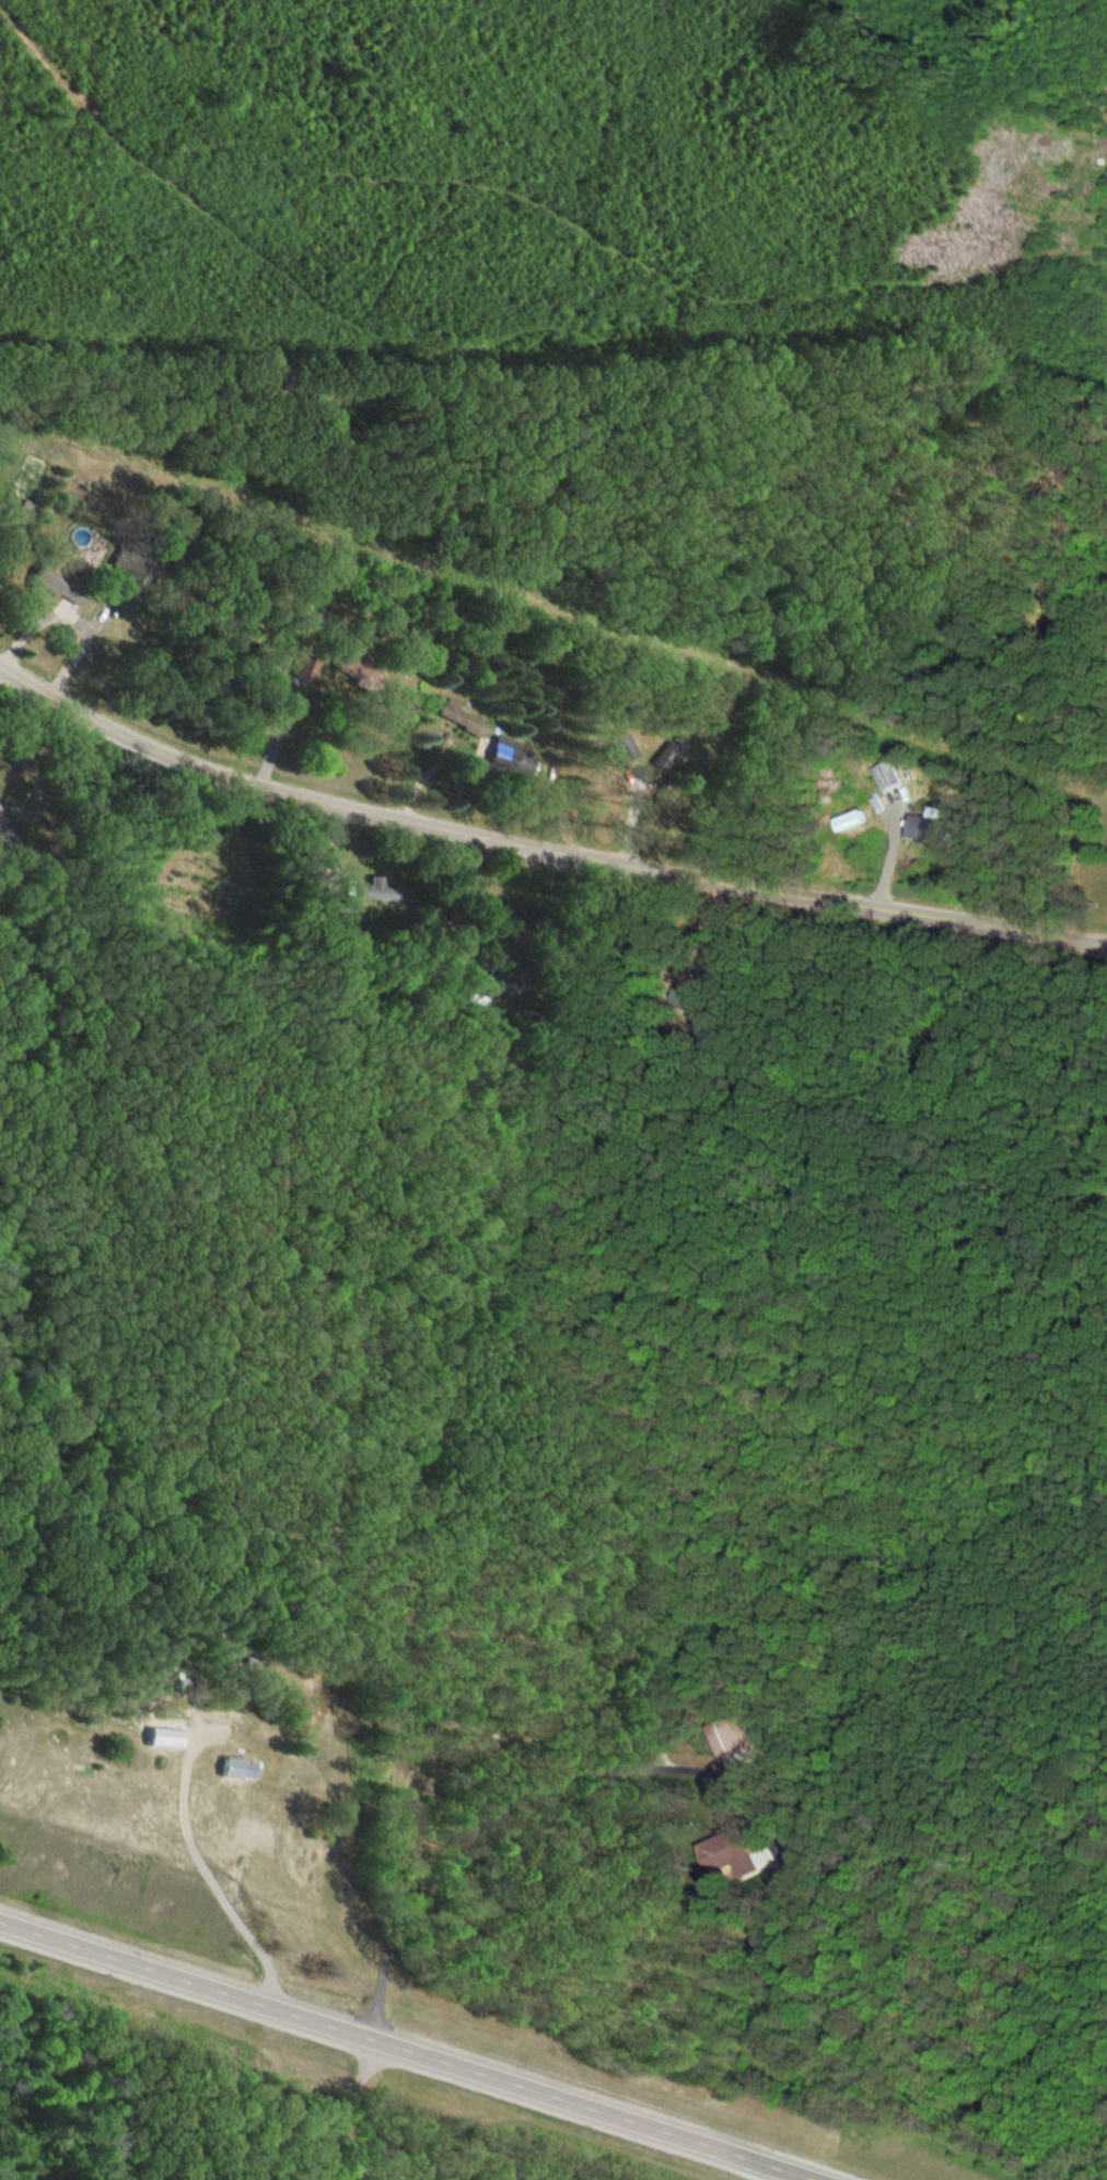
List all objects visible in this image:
building: (286, 652)
building: (361, 676)
building: (457, 715)
building: (625, 747)
building: (888, 778)
building: (851, 820)
road: (538, 850)
building: (341, 910)
building: (729, 1852)
road: (410, 2049)

